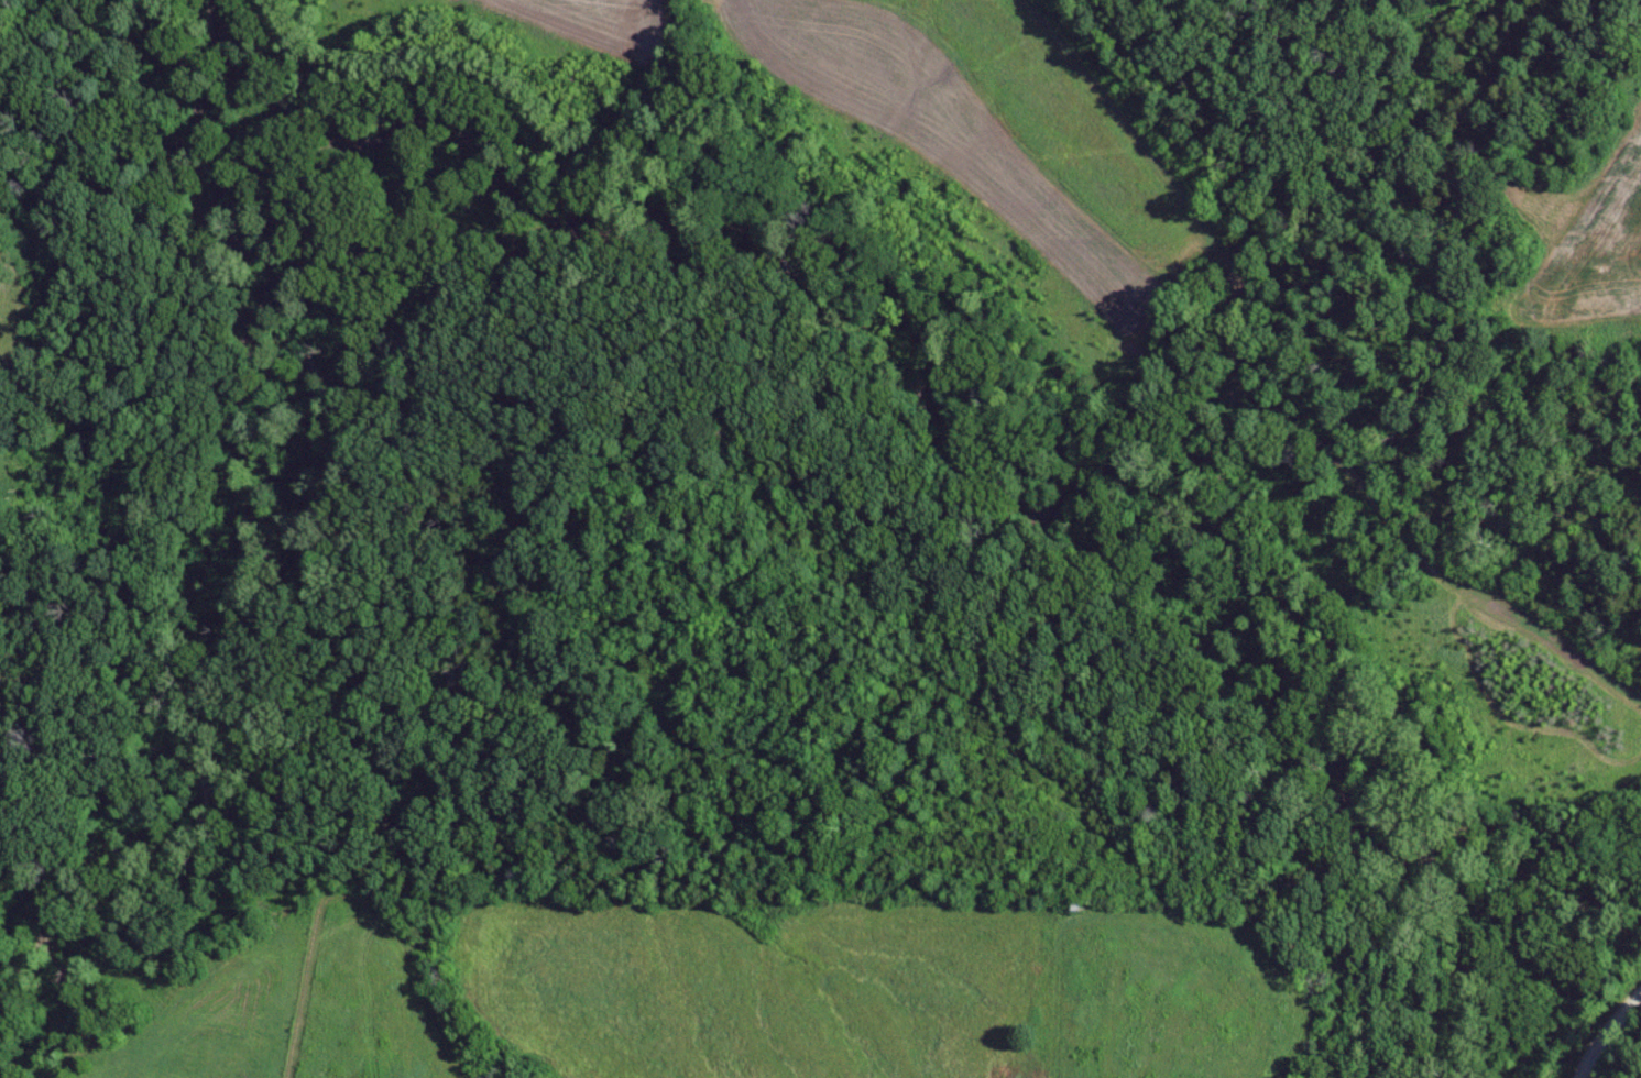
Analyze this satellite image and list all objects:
road: (1605, 1028)

